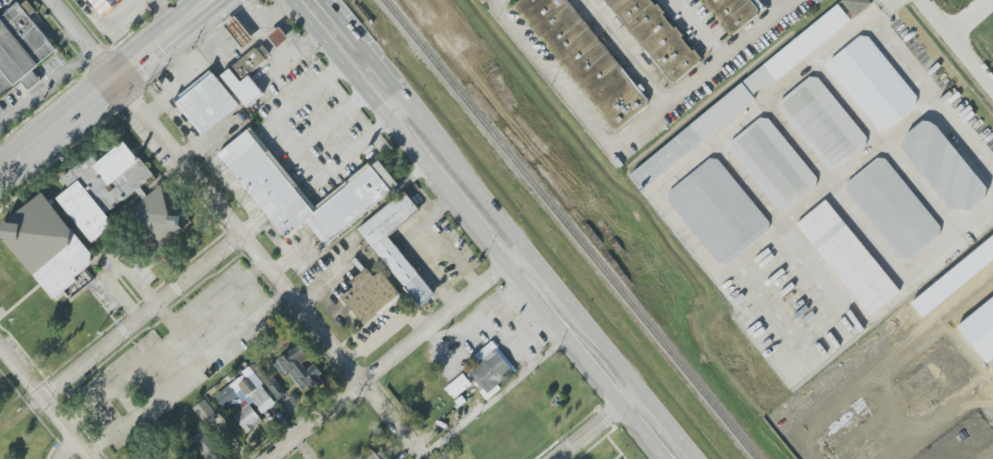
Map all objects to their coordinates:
road: (501, 1)
road: (777, 4)
building: (102, 5)
building: (857, 6)
road: (166, 12)
building: (729, 13)
road: (966, 15)
road: (182, 19)
road: (702, 27)
building: (239, 32)
road: (89, 35)
building: (654, 36)
building: (278, 37)
road: (958, 42)
road: (360, 46)
road: (628, 51)
building: (19, 55)
road: (138, 55)
building: (582, 59)
road: (556, 74)
road: (702, 74)
building: (246, 75)
building: (873, 82)
road: (48, 83)
building: (740, 96)
building: (206, 103)
road: (59, 119)
building: (823, 123)
building: (773, 164)
building: (944, 167)
building: (258, 172)
building: (102, 187)
road: (445, 208)
building: (893, 209)
building: (721, 212)
building: (154, 219)
road: (424, 223)
road: (480, 229)
railway: (570, 229)
building: (47, 245)
road: (450, 253)
building: (850, 257)
road: (275, 264)
building: (398, 265)
road: (425, 265)
road: (546, 275)
building: (955, 279)
road: (542, 285)
building: (369, 295)
road: (141, 307)
road: (176, 330)
building: (981, 331)
road: (169, 341)
road: (389, 352)
road: (192, 369)
building: (490, 369)
building: (300, 370)
building: (842, 372)
building: (458, 386)
building: (276, 389)
building: (226, 396)
road: (47, 400)
building: (992, 400)
building: (251, 404)
building: (899, 405)
building: (206, 412)
road: (591, 422)
road: (654, 424)
building: (964, 440)
building: (208, 446)
road: (67, 447)
building: (371, 455)

